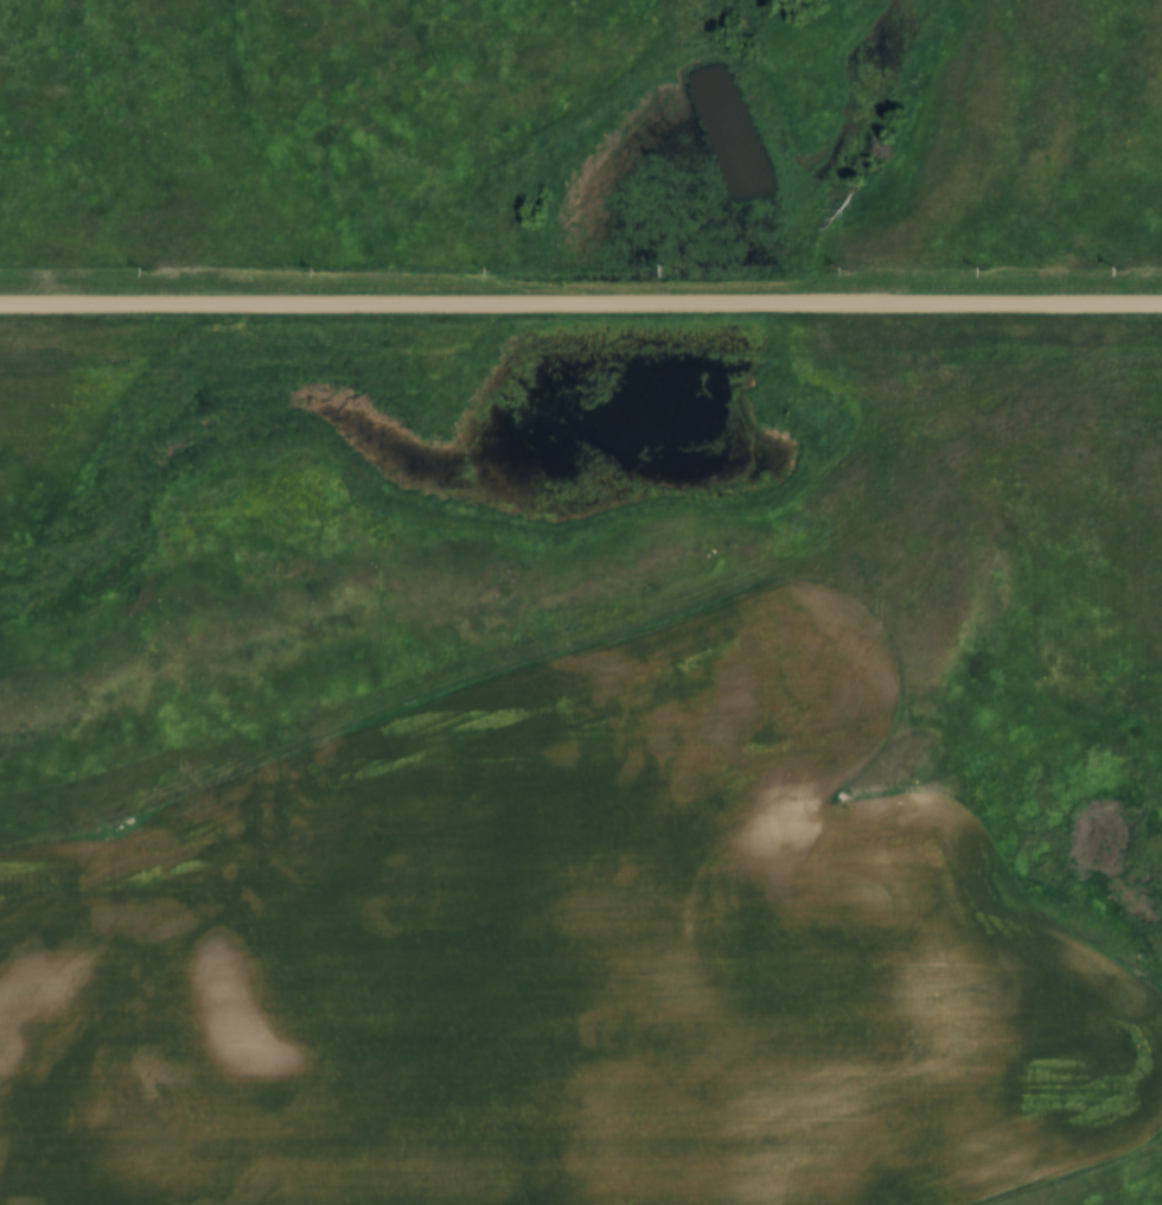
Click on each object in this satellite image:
road: (581, 304)

